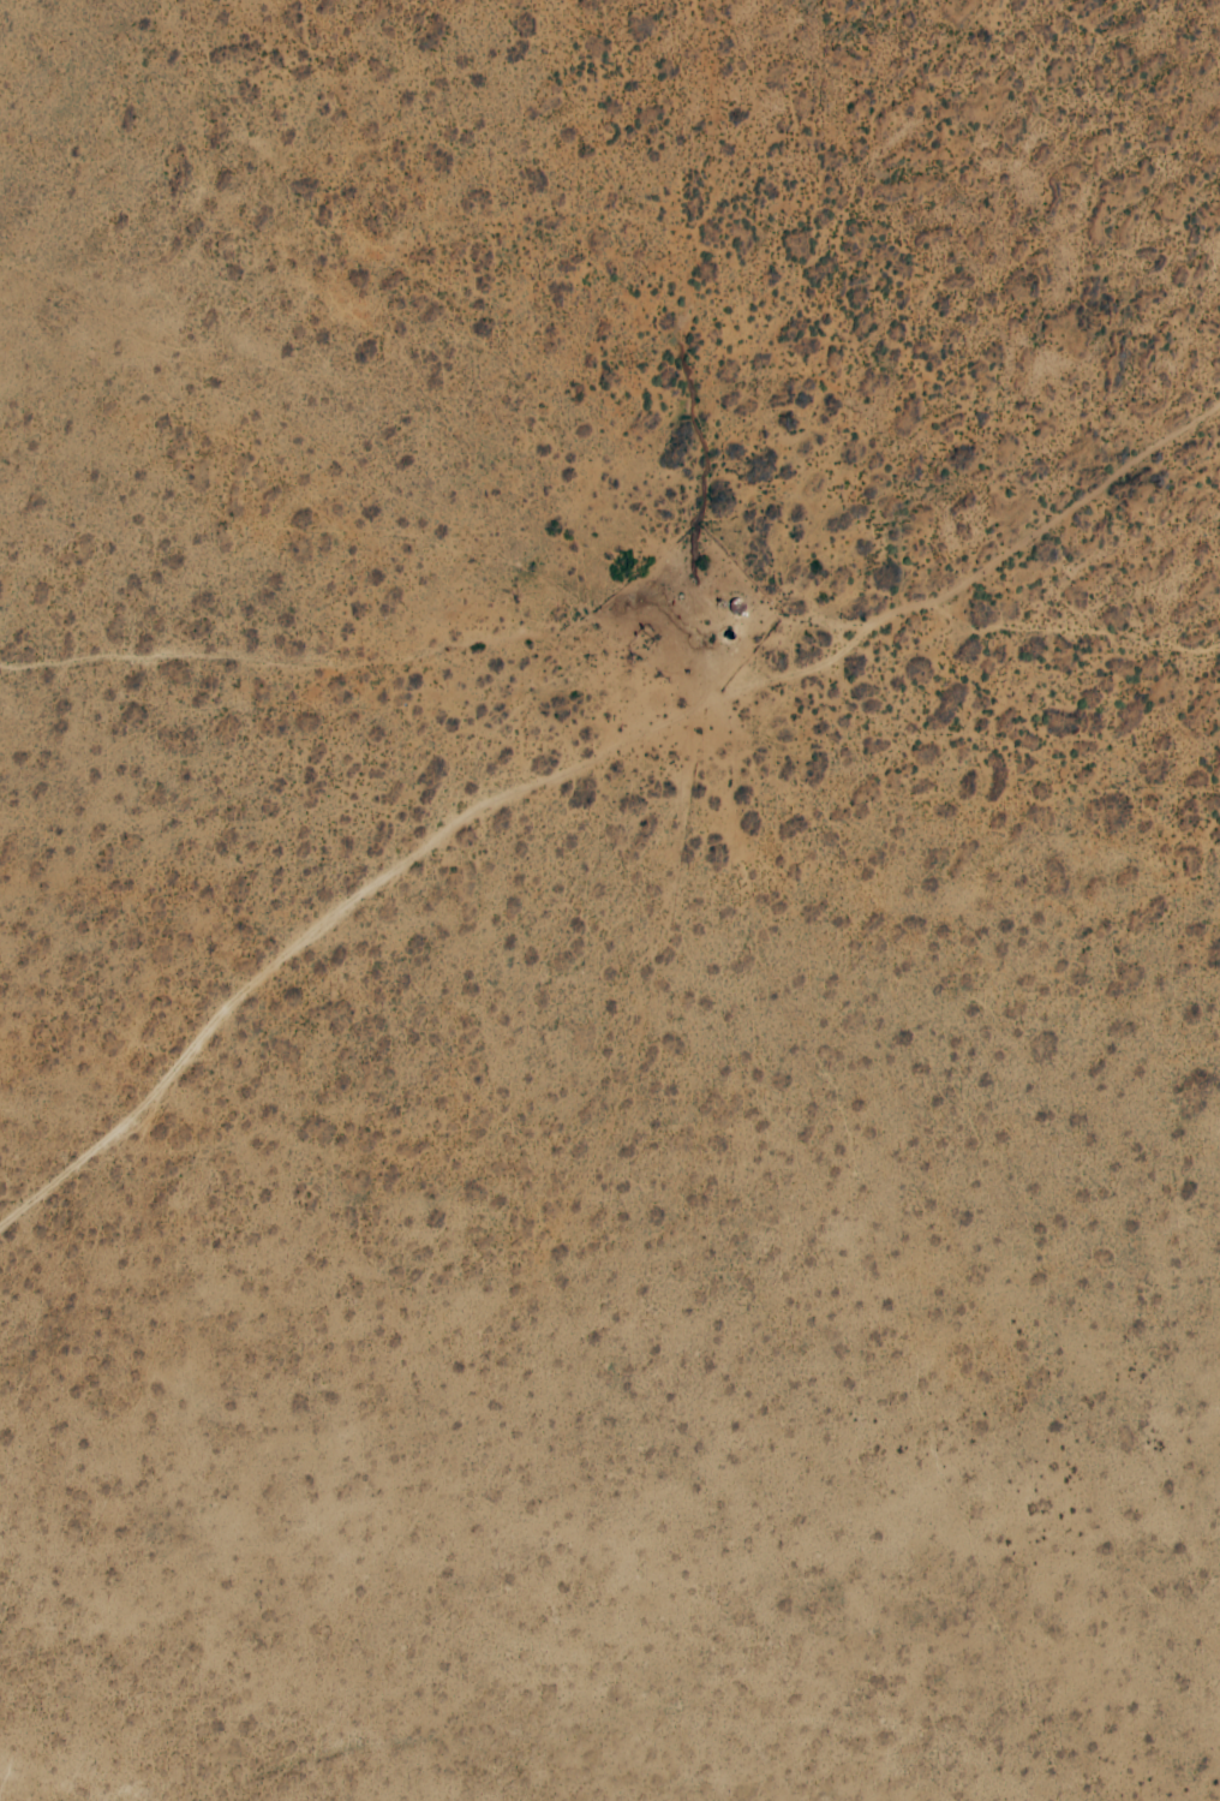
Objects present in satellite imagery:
road: (974, 497)
road: (346, 887)

